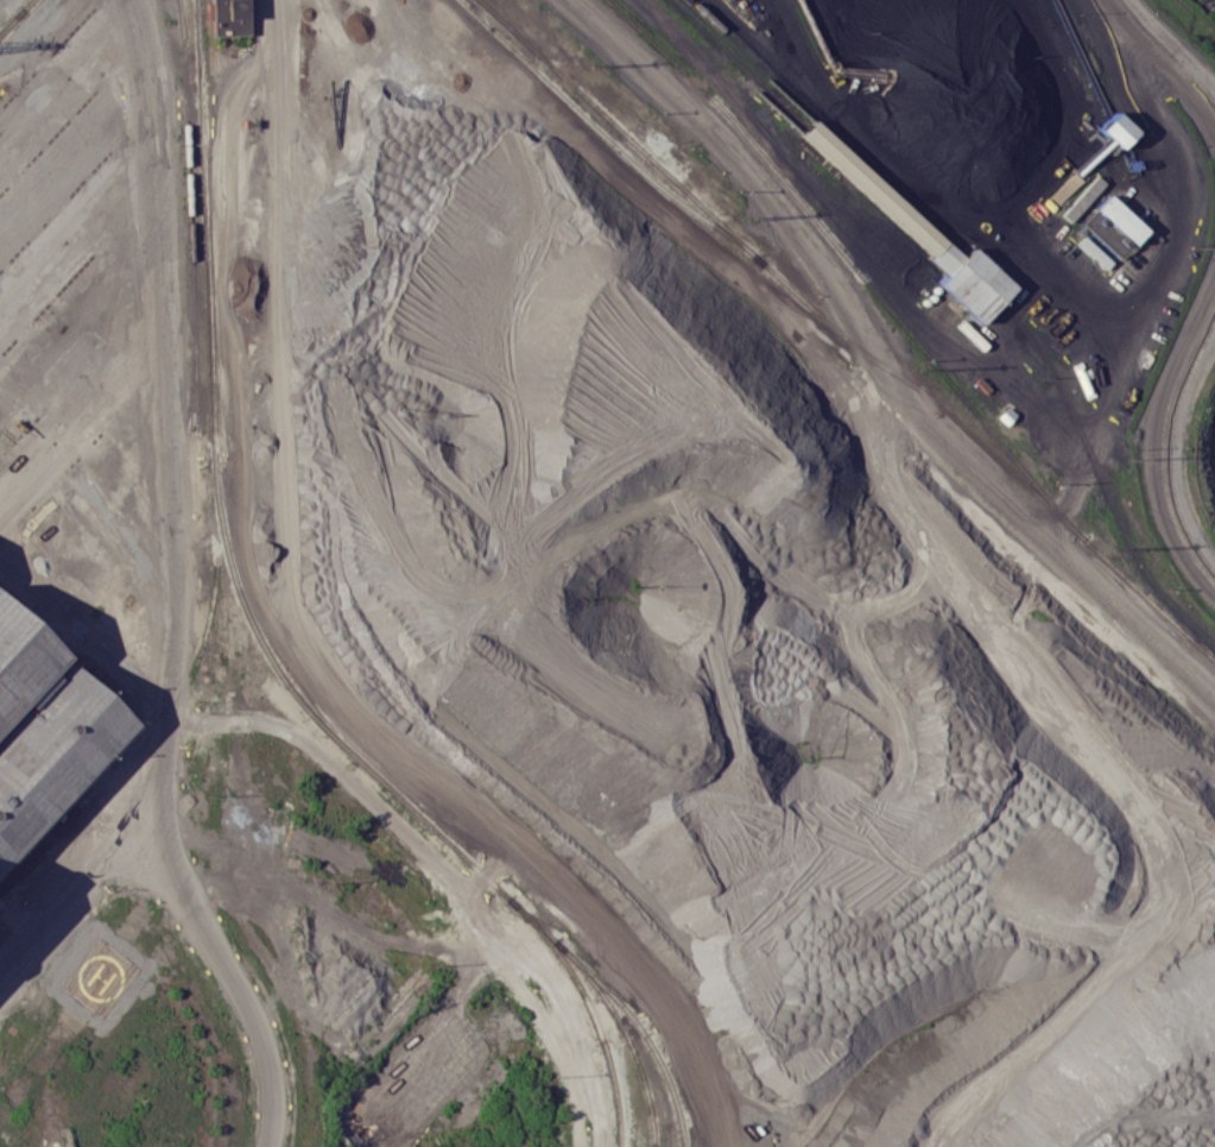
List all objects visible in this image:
railway: (15, 17)
building: (229, 17)
railway: (12, 19)
road: (1163, 59)
railway: (738, 63)
railway: (185, 65)
railway: (200, 69)
railway: (210, 75)
road: (64, 83)
railway: (821, 120)
building: (1110, 127)
railway: (214, 130)
railway: (606, 137)
road: (941, 182)
building: (1063, 188)
building: (1081, 198)
railway: (900, 215)
building: (1118, 218)
road: (74, 233)
building: (920, 234)
railway: (850, 263)
road: (812, 267)
railway: (192, 282)
railway: (208, 297)
railway: (843, 335)
road: (1109, 405)
road: (1158, 437)
railway: (1100, 478)
railway: (235, 578)
road: (162, 585)
road: (80, 622)
road: (323, 649)
building: (45, 735)
railway: (384, 783)
road: (89, 886)
railway: (574, 977)
railway: (608, 992)
railway: (609, 1007)
railway: (614, 1110)
railway: (650, 1116)

